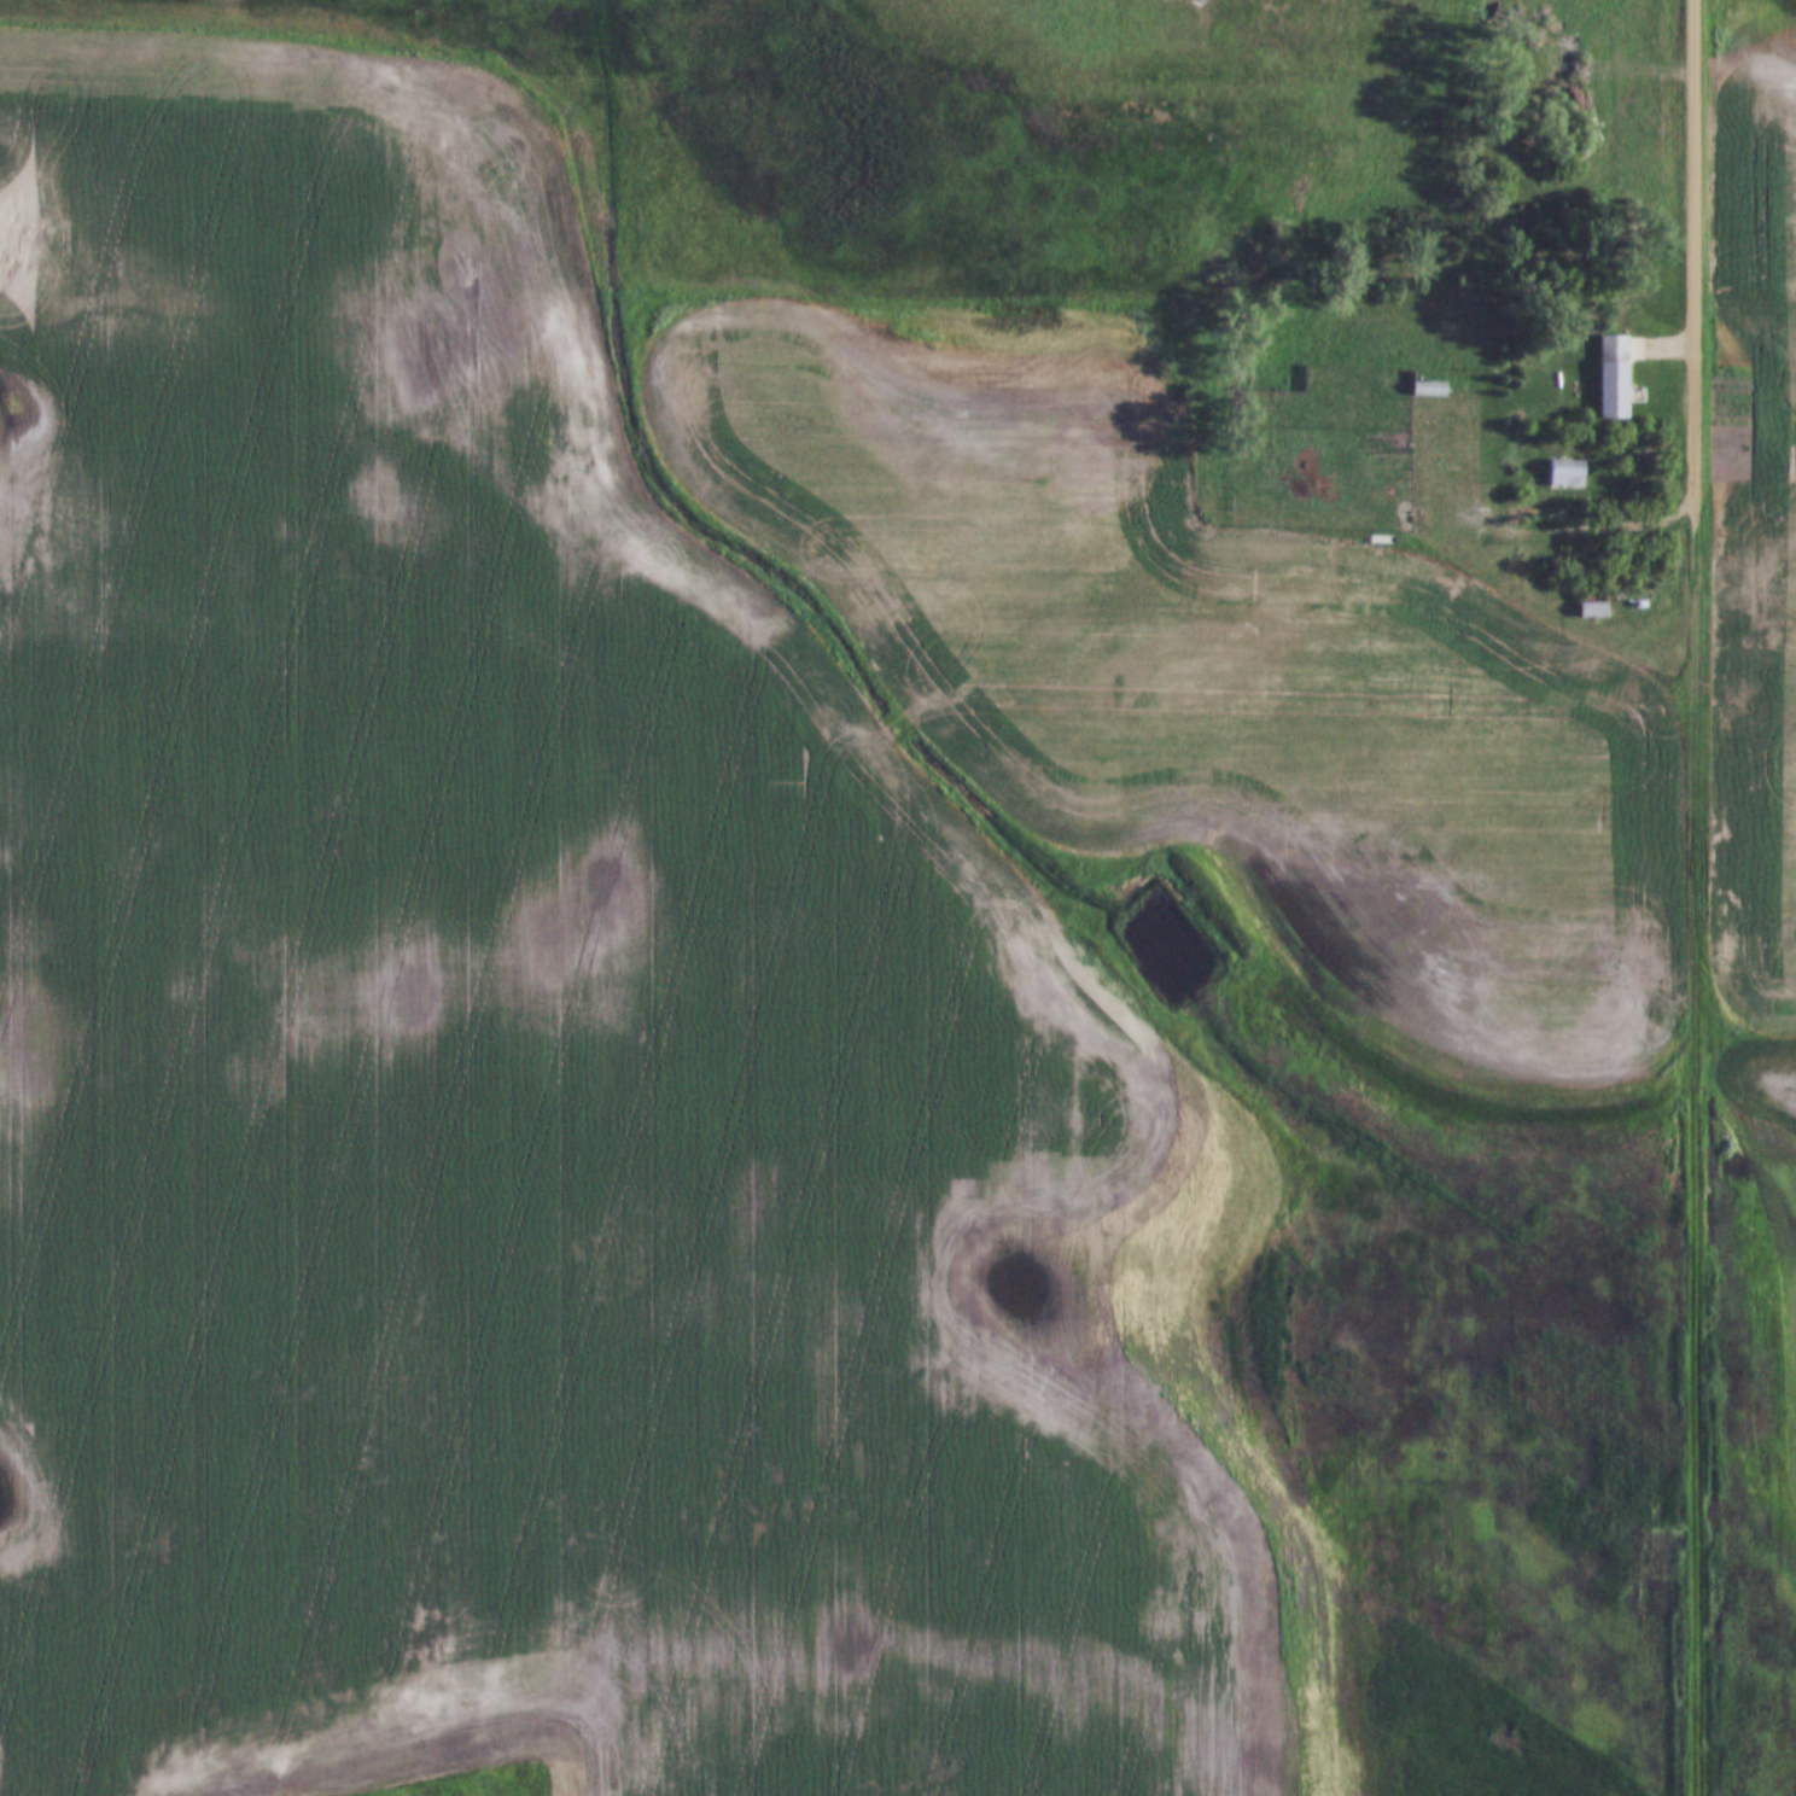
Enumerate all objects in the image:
road: (1692, 247)
road: (1666, 338)
building: (1620, 373)
building: (1565, 474)
road: (1460, 540)
building: (1524, 568)
building: (1593, 611)
road: (1692, 1144)

